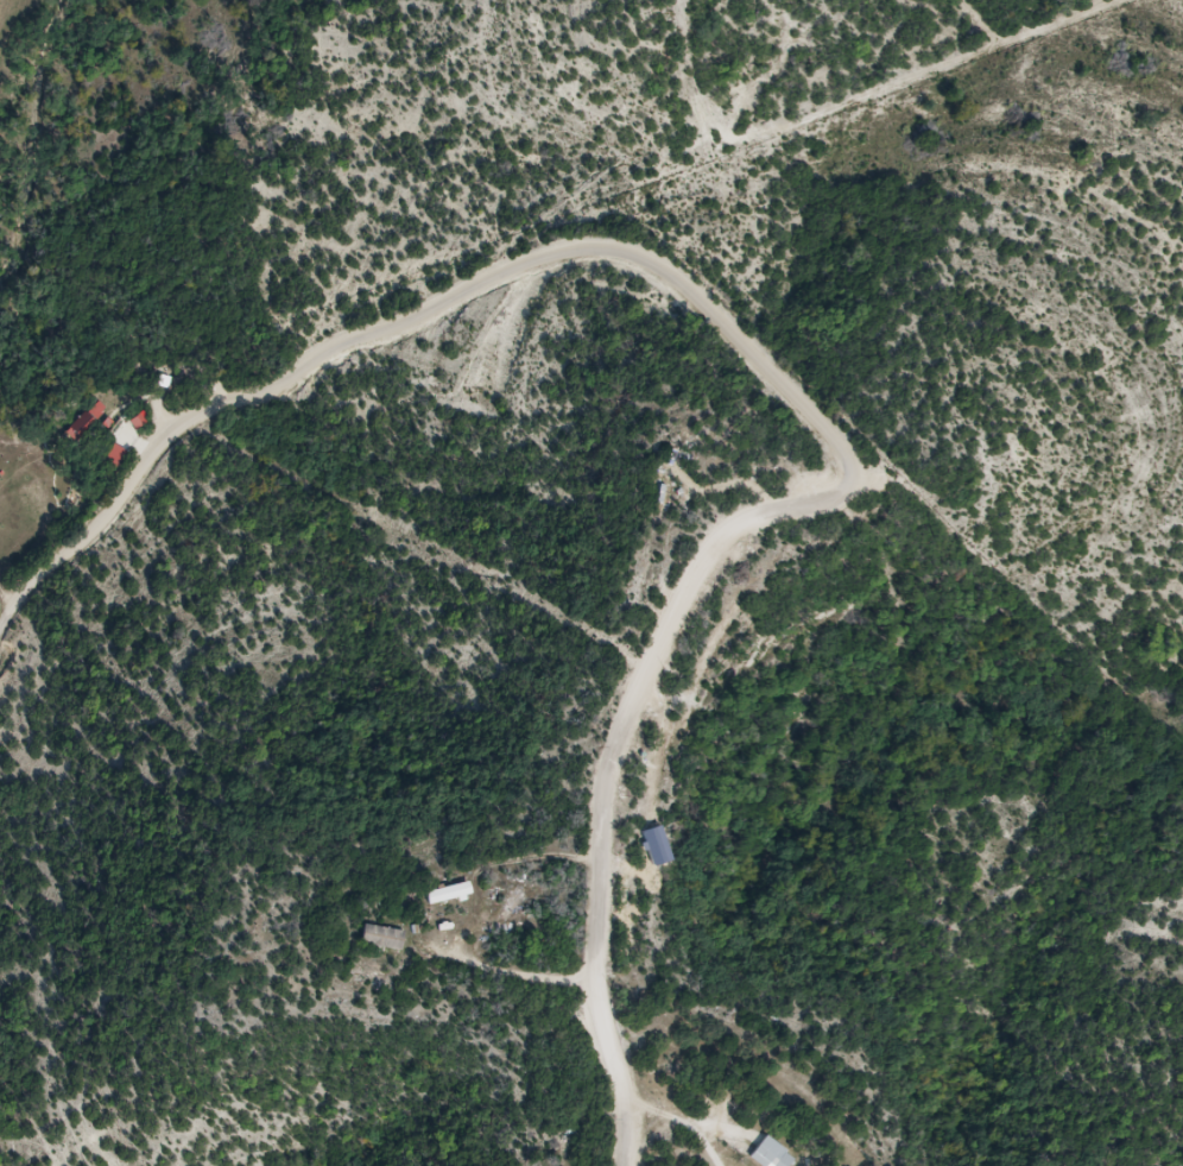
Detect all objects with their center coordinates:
road: (766, 352)
road: (540, 862)
building: (382, 939)
road: (527, 977)
road: (690, 1115)
building: (773, 1160)

